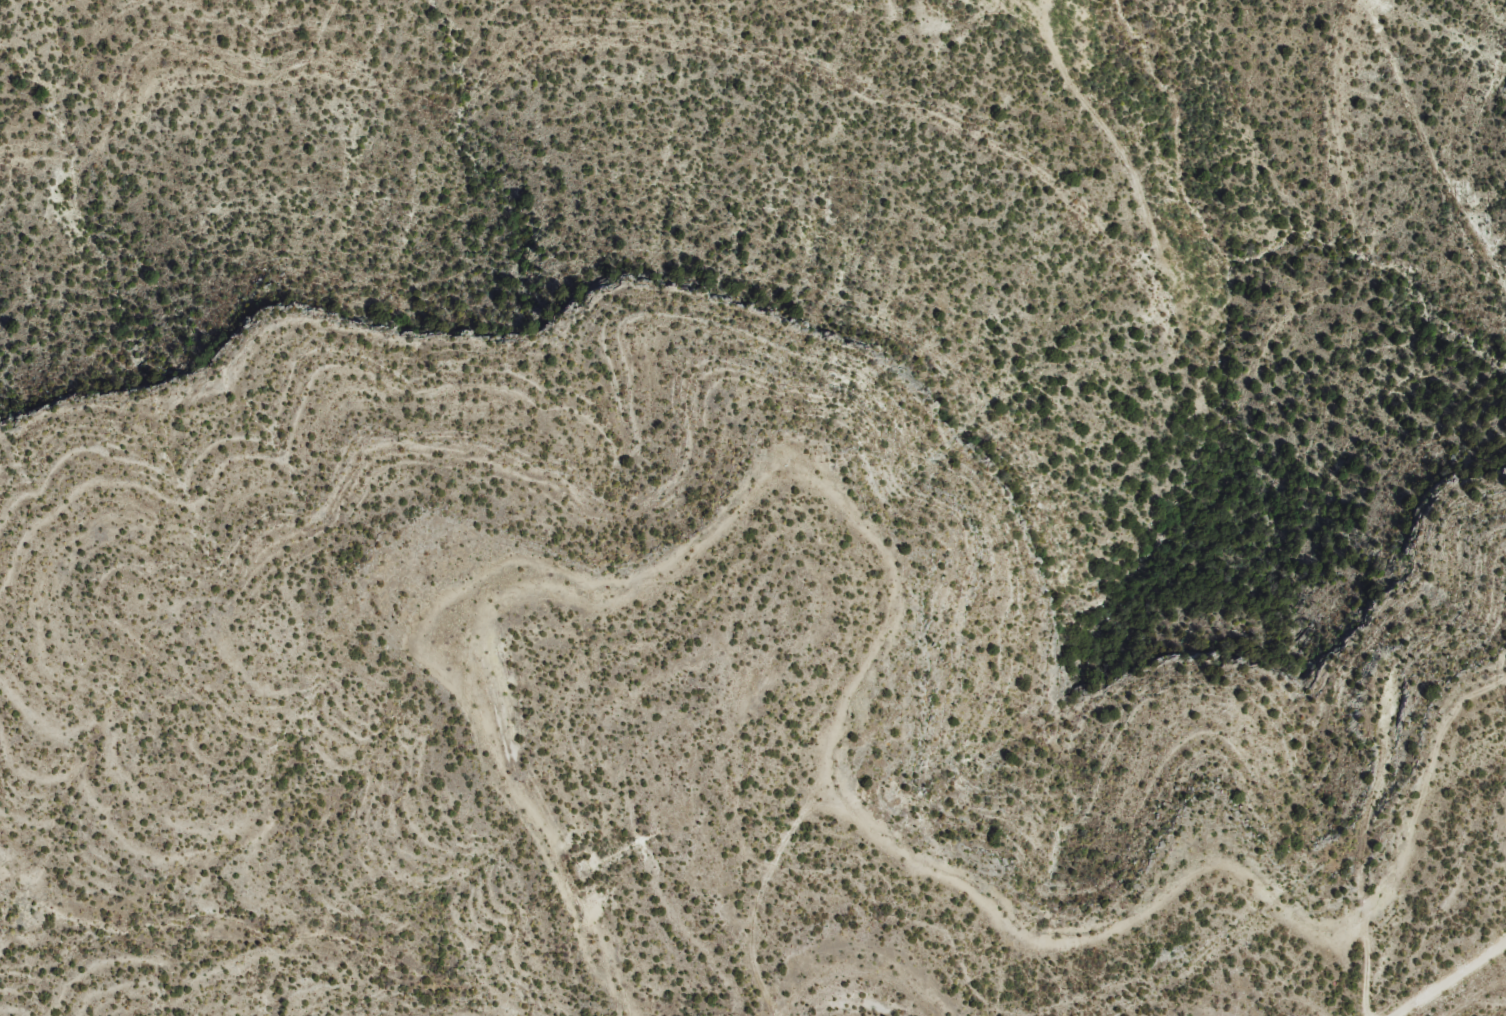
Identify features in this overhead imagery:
road: (1030, 2)
road: (1486, 1006)

